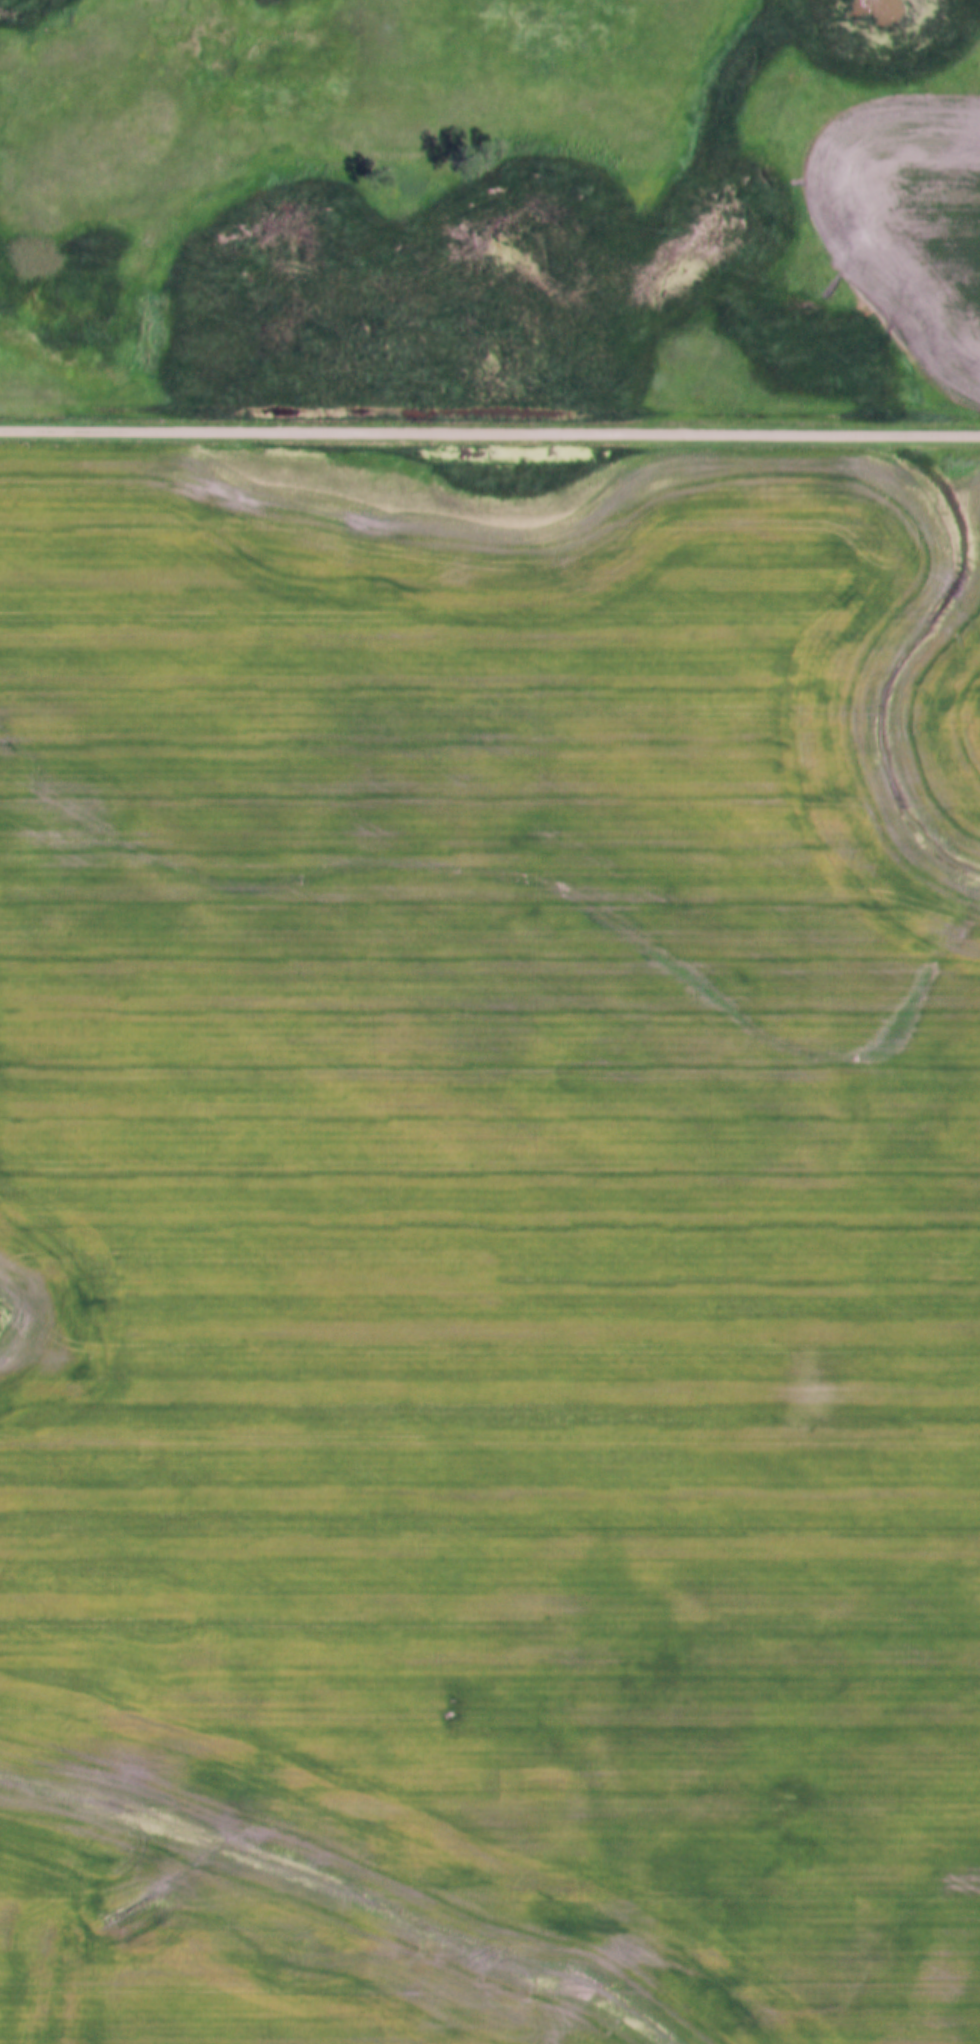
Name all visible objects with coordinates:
road: (489, 435)

